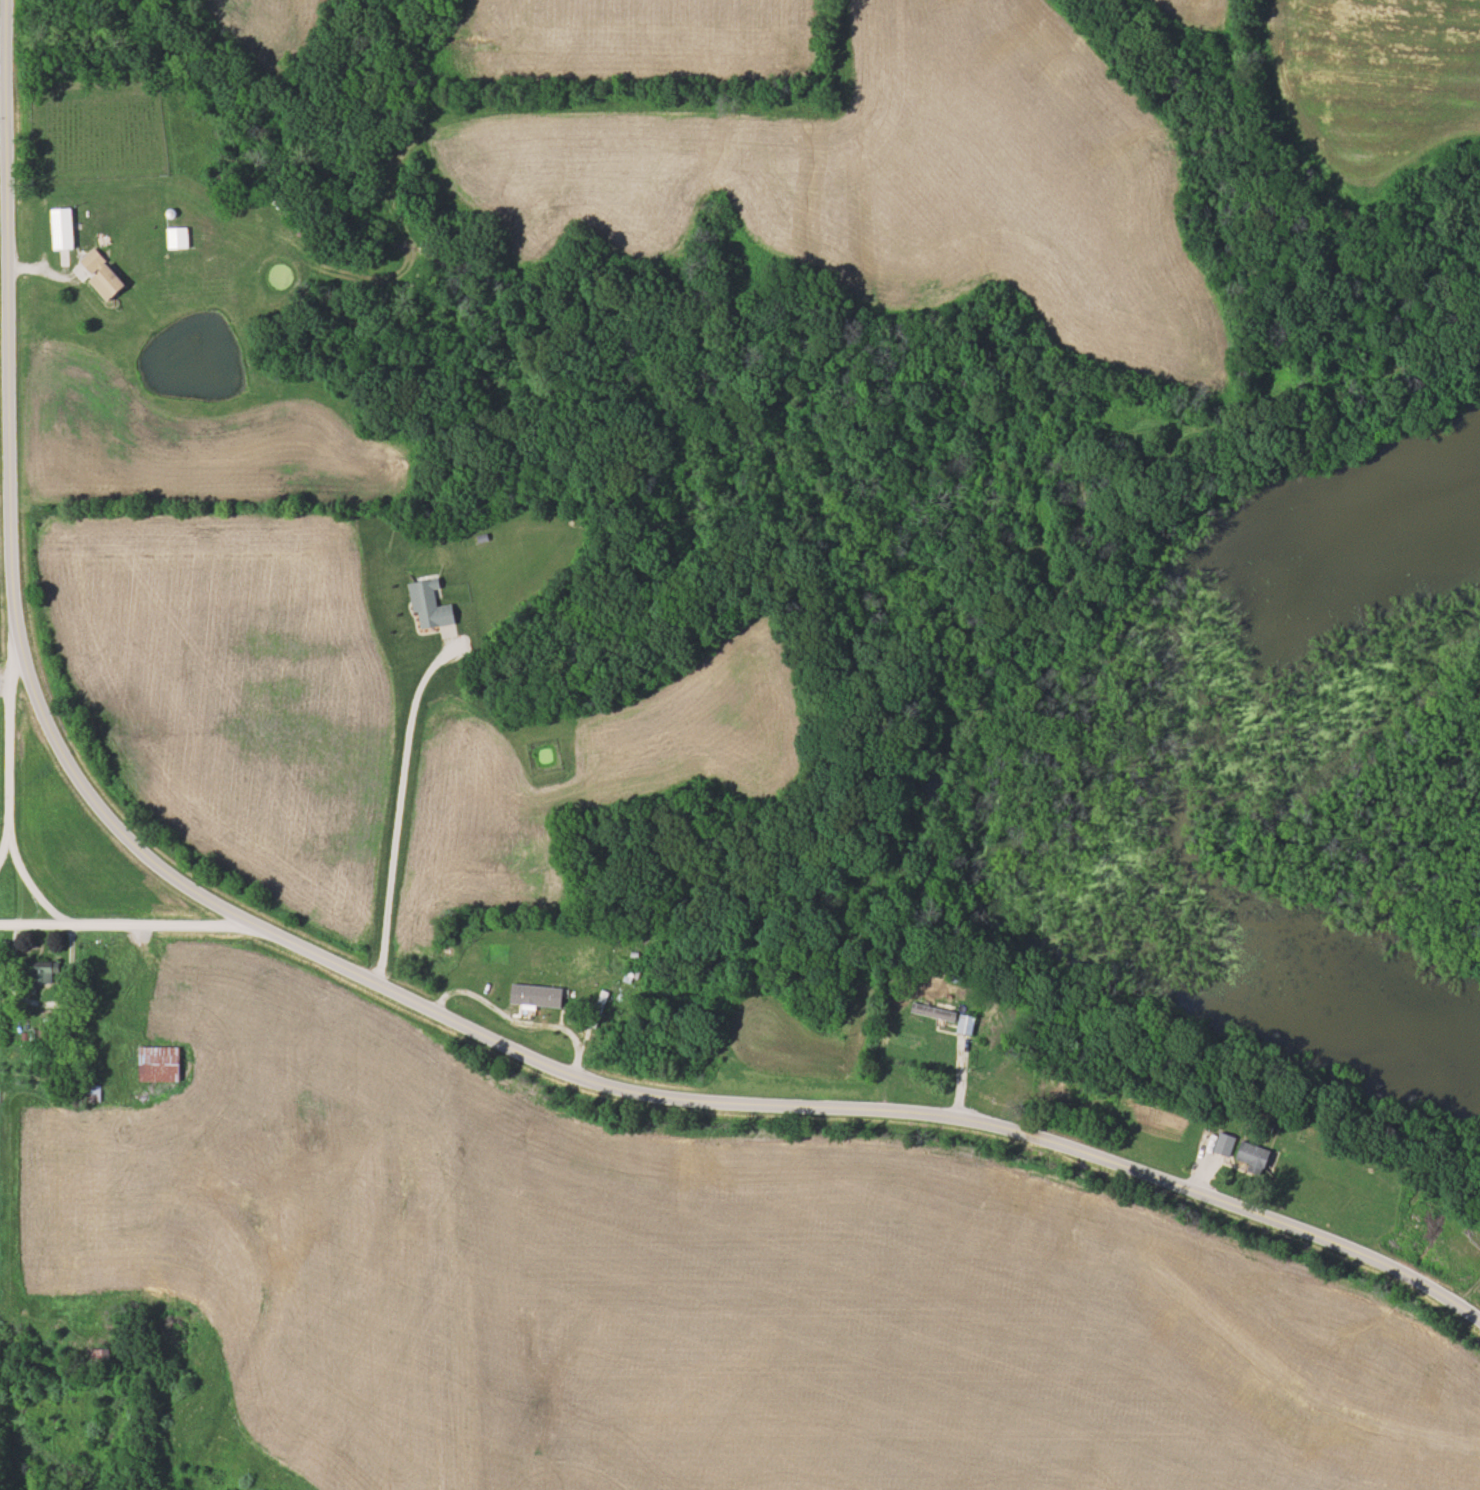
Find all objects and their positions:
building: (59, 228)
building: (97, 274)
building: (425, 605)
road: (5, 740)
road: (397, 809)
road: (27, 883)
road: (126, 925)
building: (951, 976)
building: (33, 977)
road: (379, 984)
building: (596, 1008)
building: (931, 1012)
building: (963, 1024)
building: (155, 1063)
building: (87, 1093)
building: (1220, 1143)
building: (1249, 1156)
building: (96, 1357)

